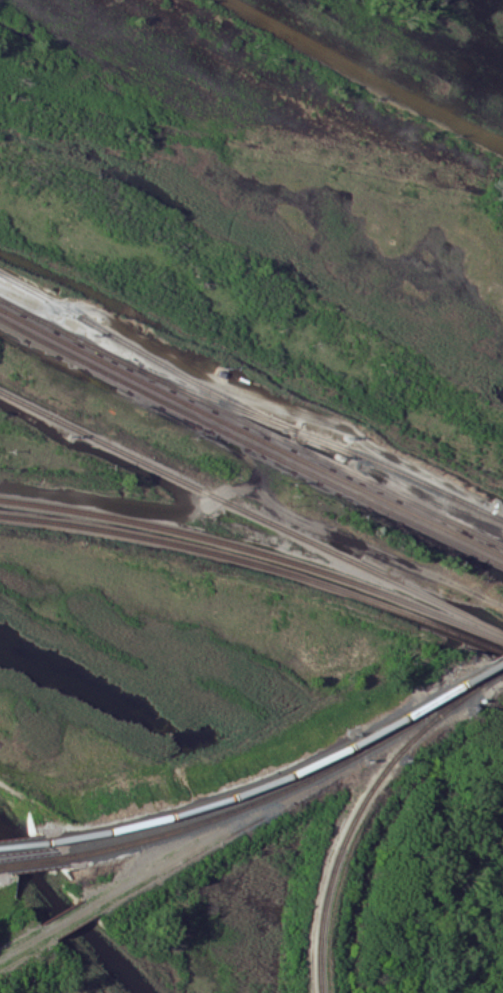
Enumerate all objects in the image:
railway: (67, 333)
railway: (250, 433)
railway: (321, 438)
railway: (250, 444)
railway: (319, 456)
railway: (250, 512)
railway: (256, 551)
railway: (255, 566)
railway: (499, 658)
railway: (393, 731)
railway: (282, 775)
railway: (360, 804)
railway: (171, 831)
railway: (25, 843)
railway: (29, 862)
landfill: (2, 913)
railway: (73, 914)

